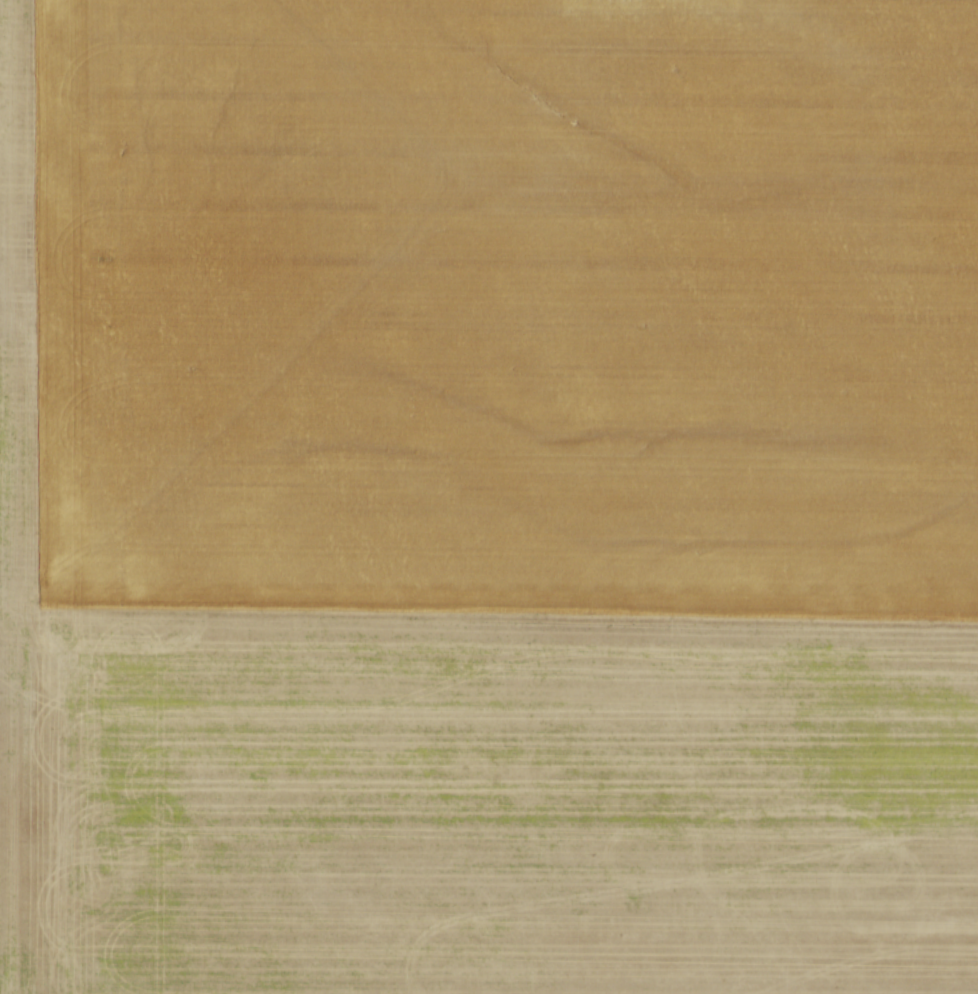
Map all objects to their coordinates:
crop: (489, 497)

